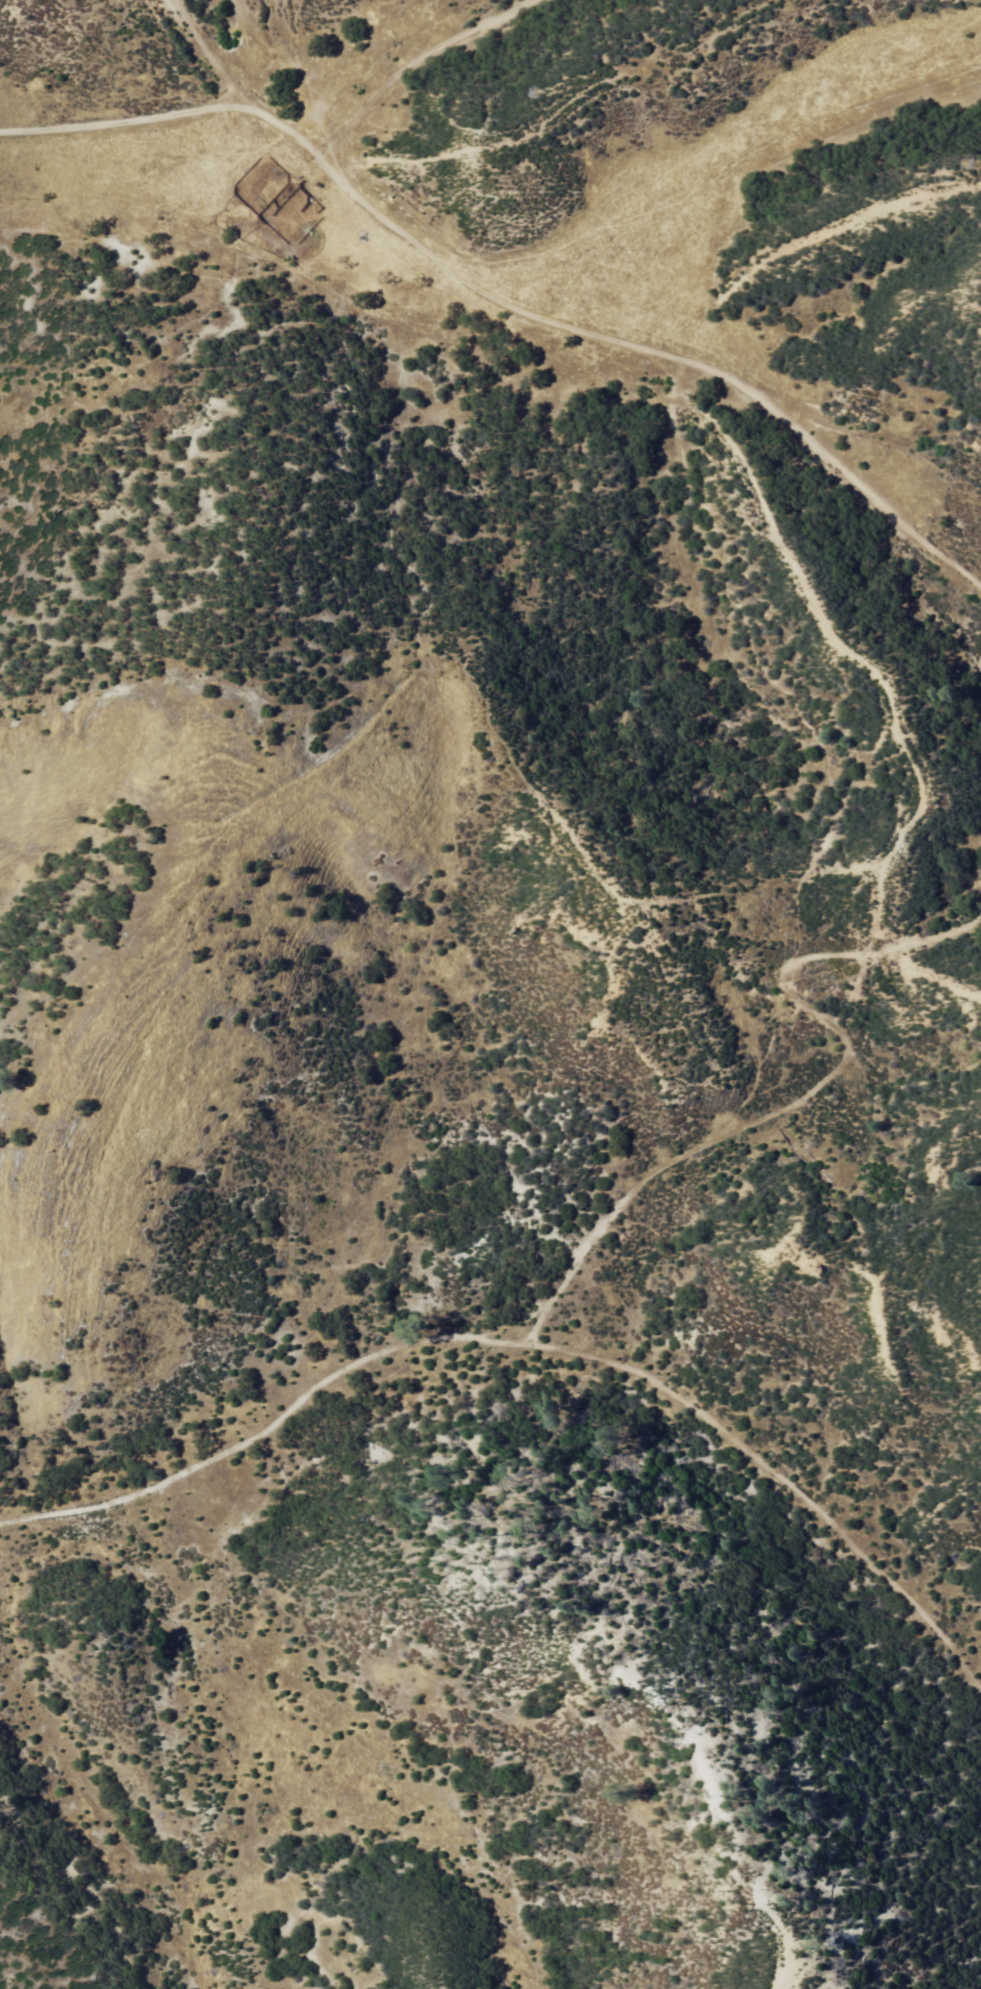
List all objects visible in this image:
road: (373, 34)
road: (121, 117)
road: (477, 174)
road: (686, 372)
road: (896, 974)
road: (942, 988)
road: (777, 1451)

